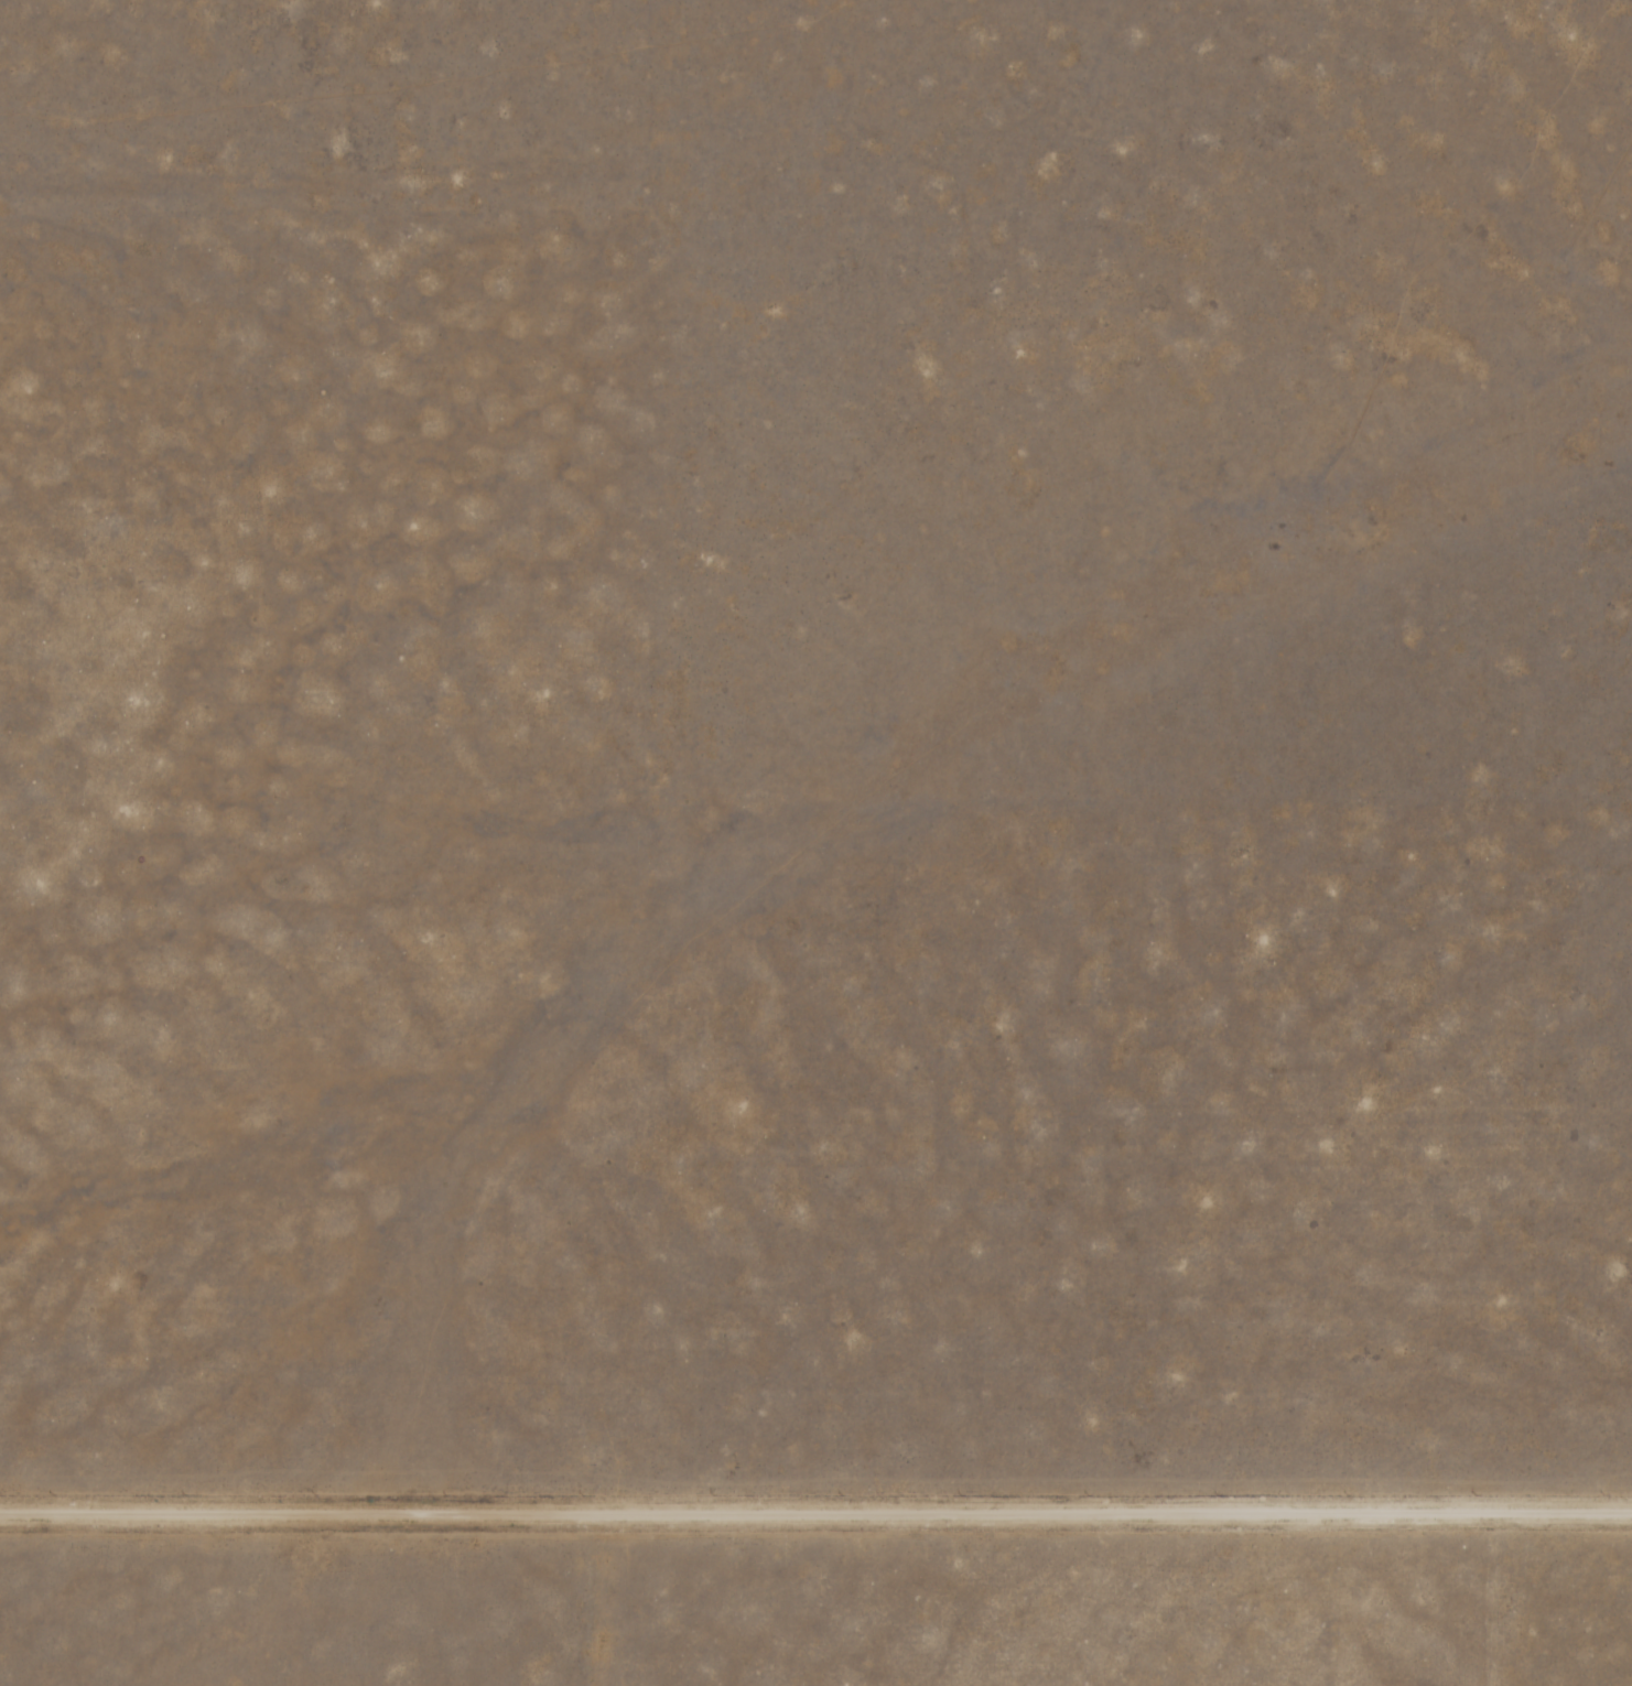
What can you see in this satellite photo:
road: (815, 1498)

